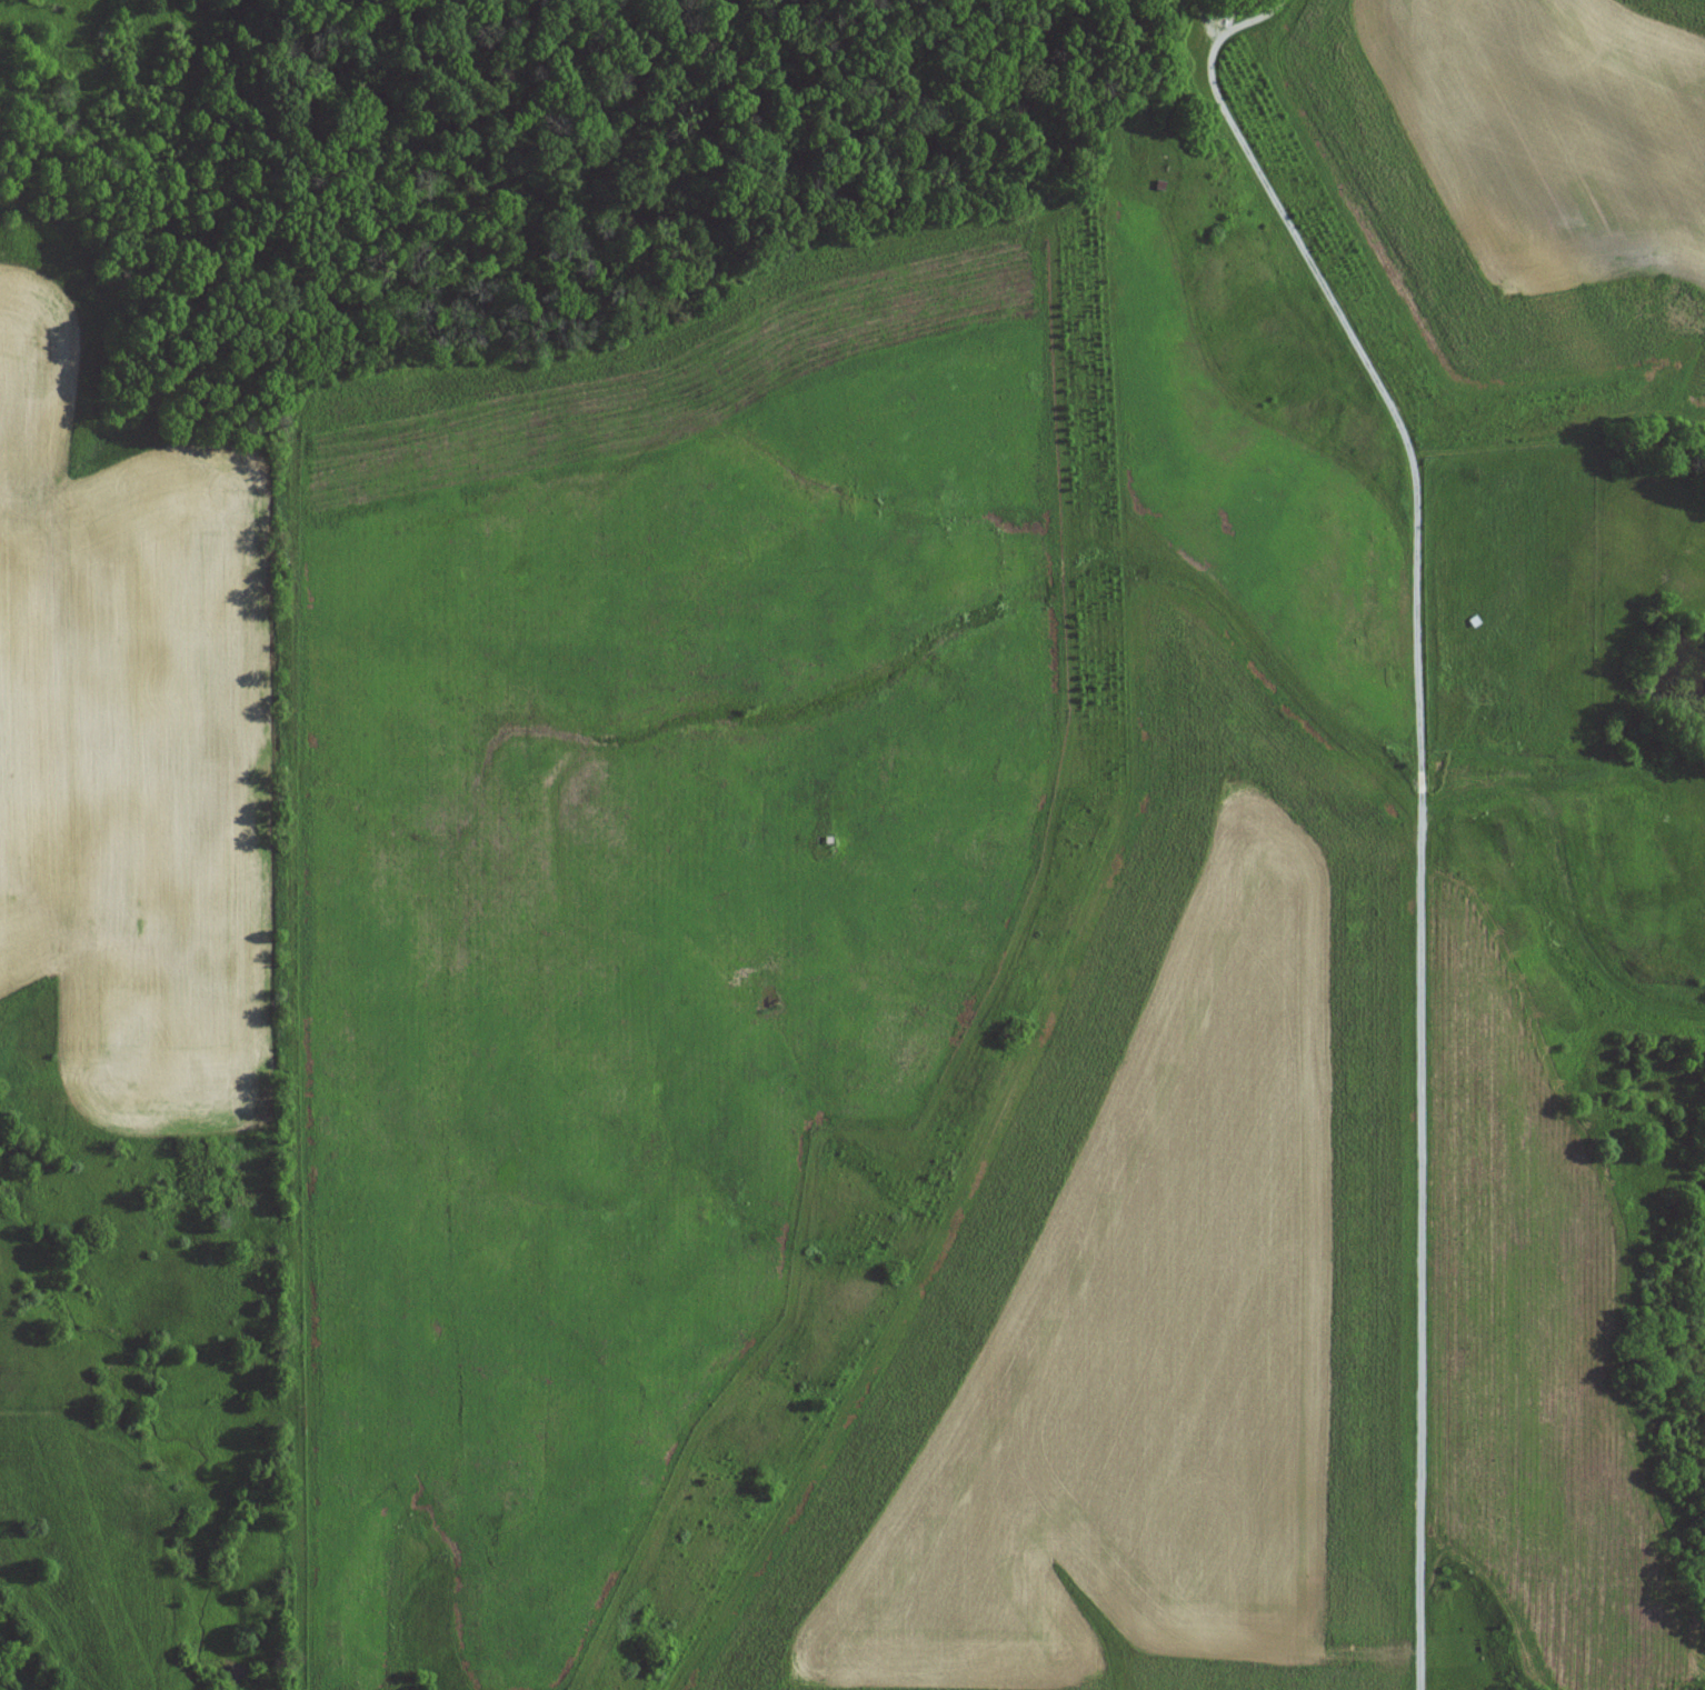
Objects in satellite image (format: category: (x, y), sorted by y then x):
road: (1419, 803)

